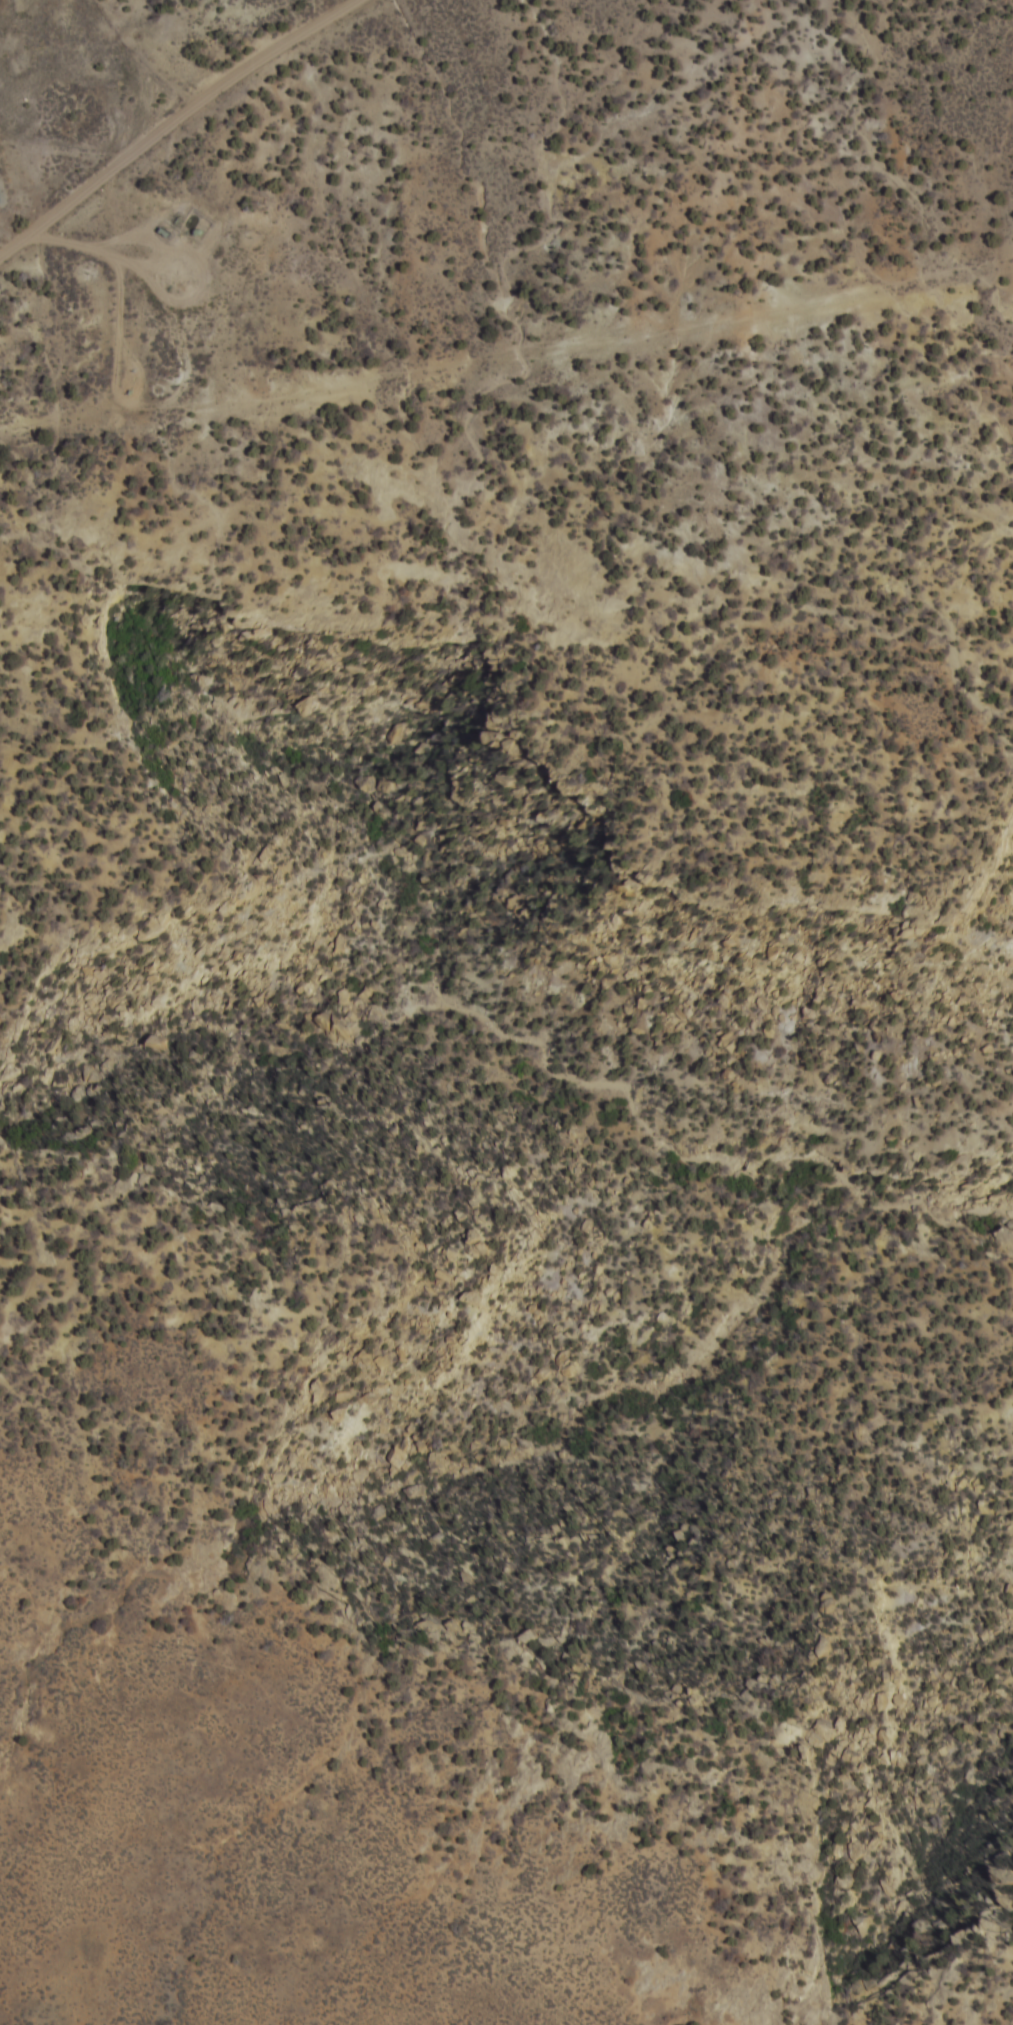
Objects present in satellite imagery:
road: (121, 111)

